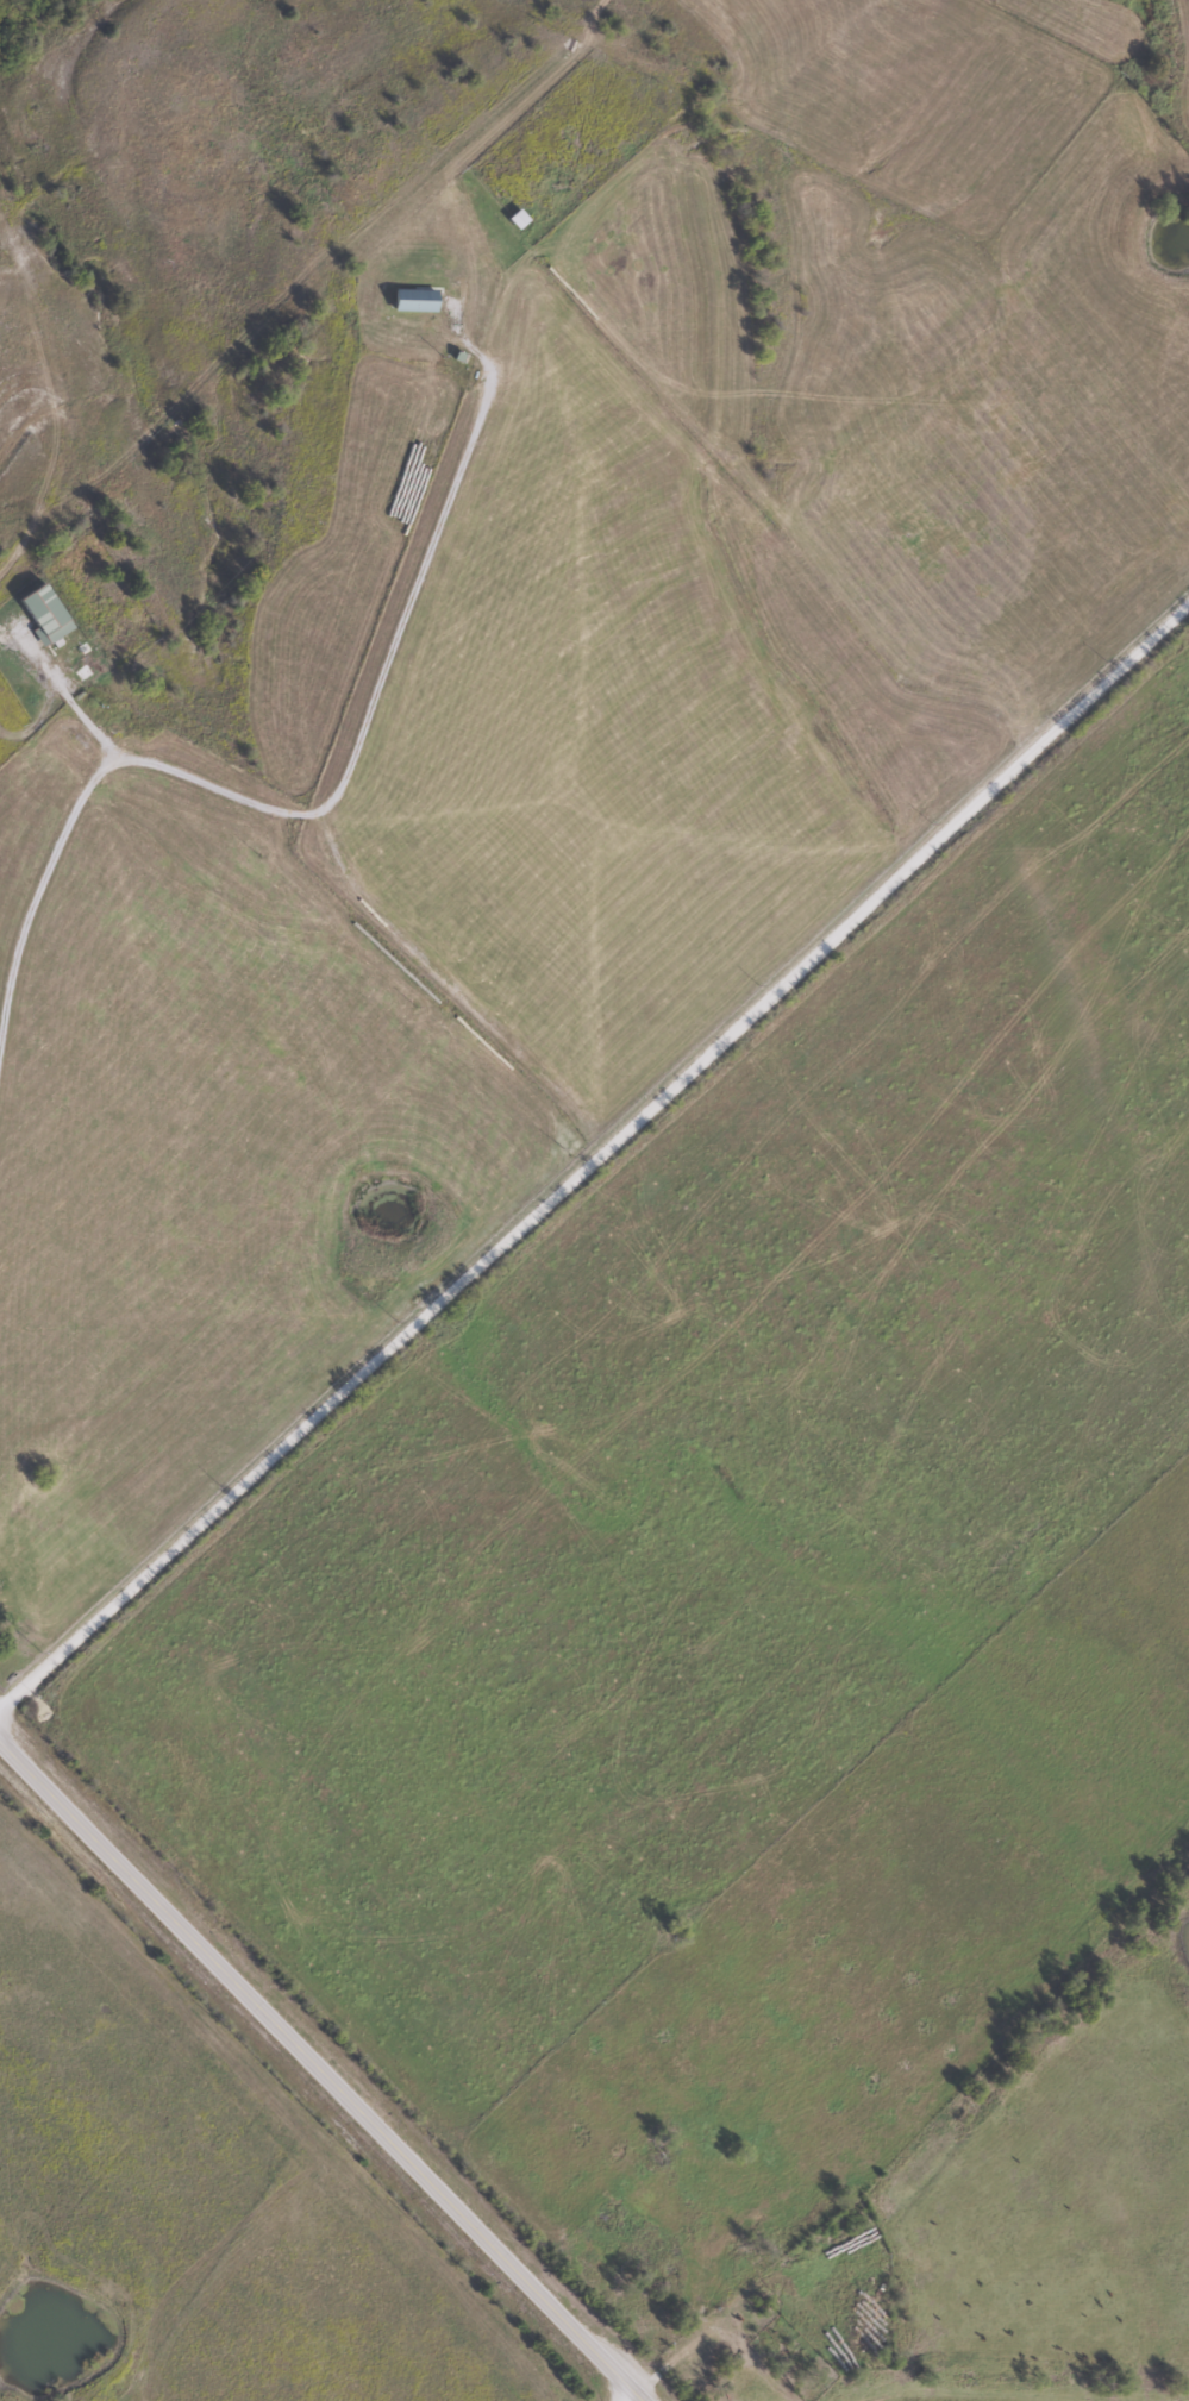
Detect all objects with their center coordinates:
building: (515, 219)
building: (412, 301)
building: (40, 615)
building: (86, 670)
road: (74, 706)
road: (313, 811)
road: (593, 1155)
road: (319, 2069)
building: (805, 2391)
road: (632, 2399)

